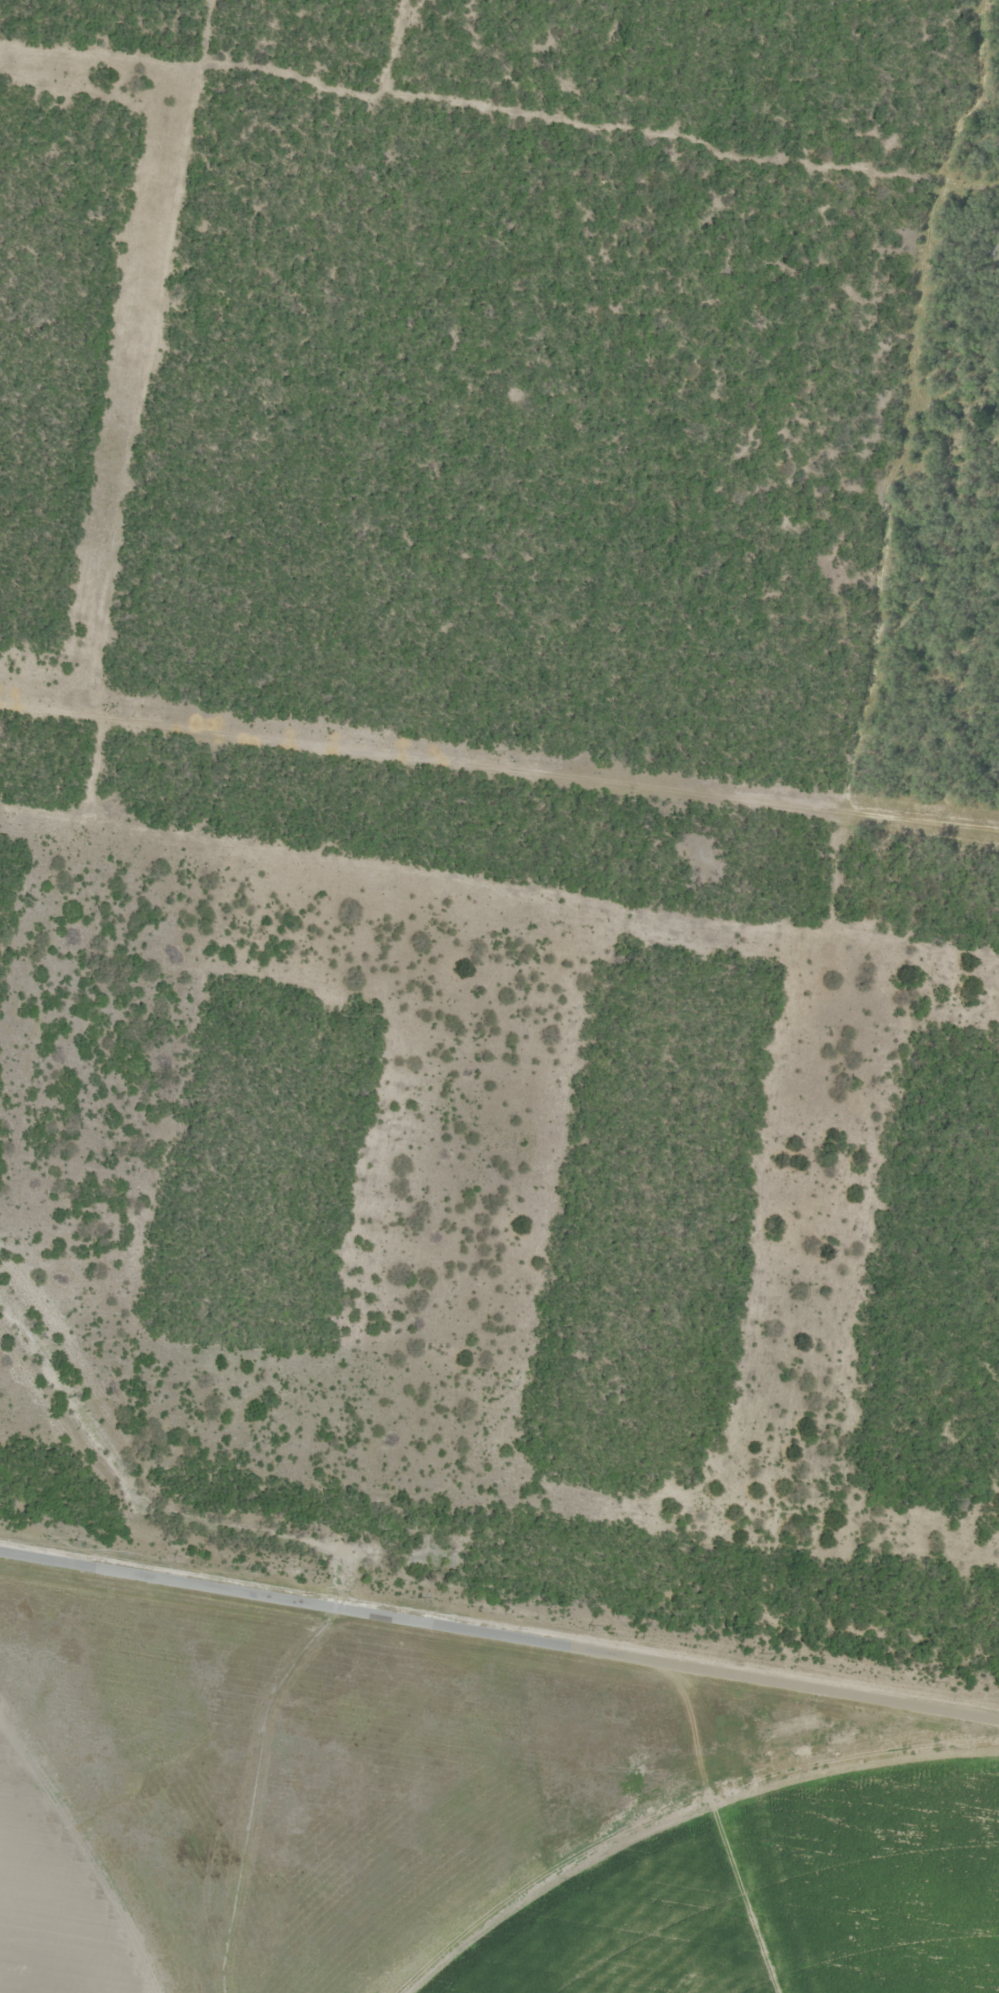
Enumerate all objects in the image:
railway: (499, 1590)
road: (499, 1633)

